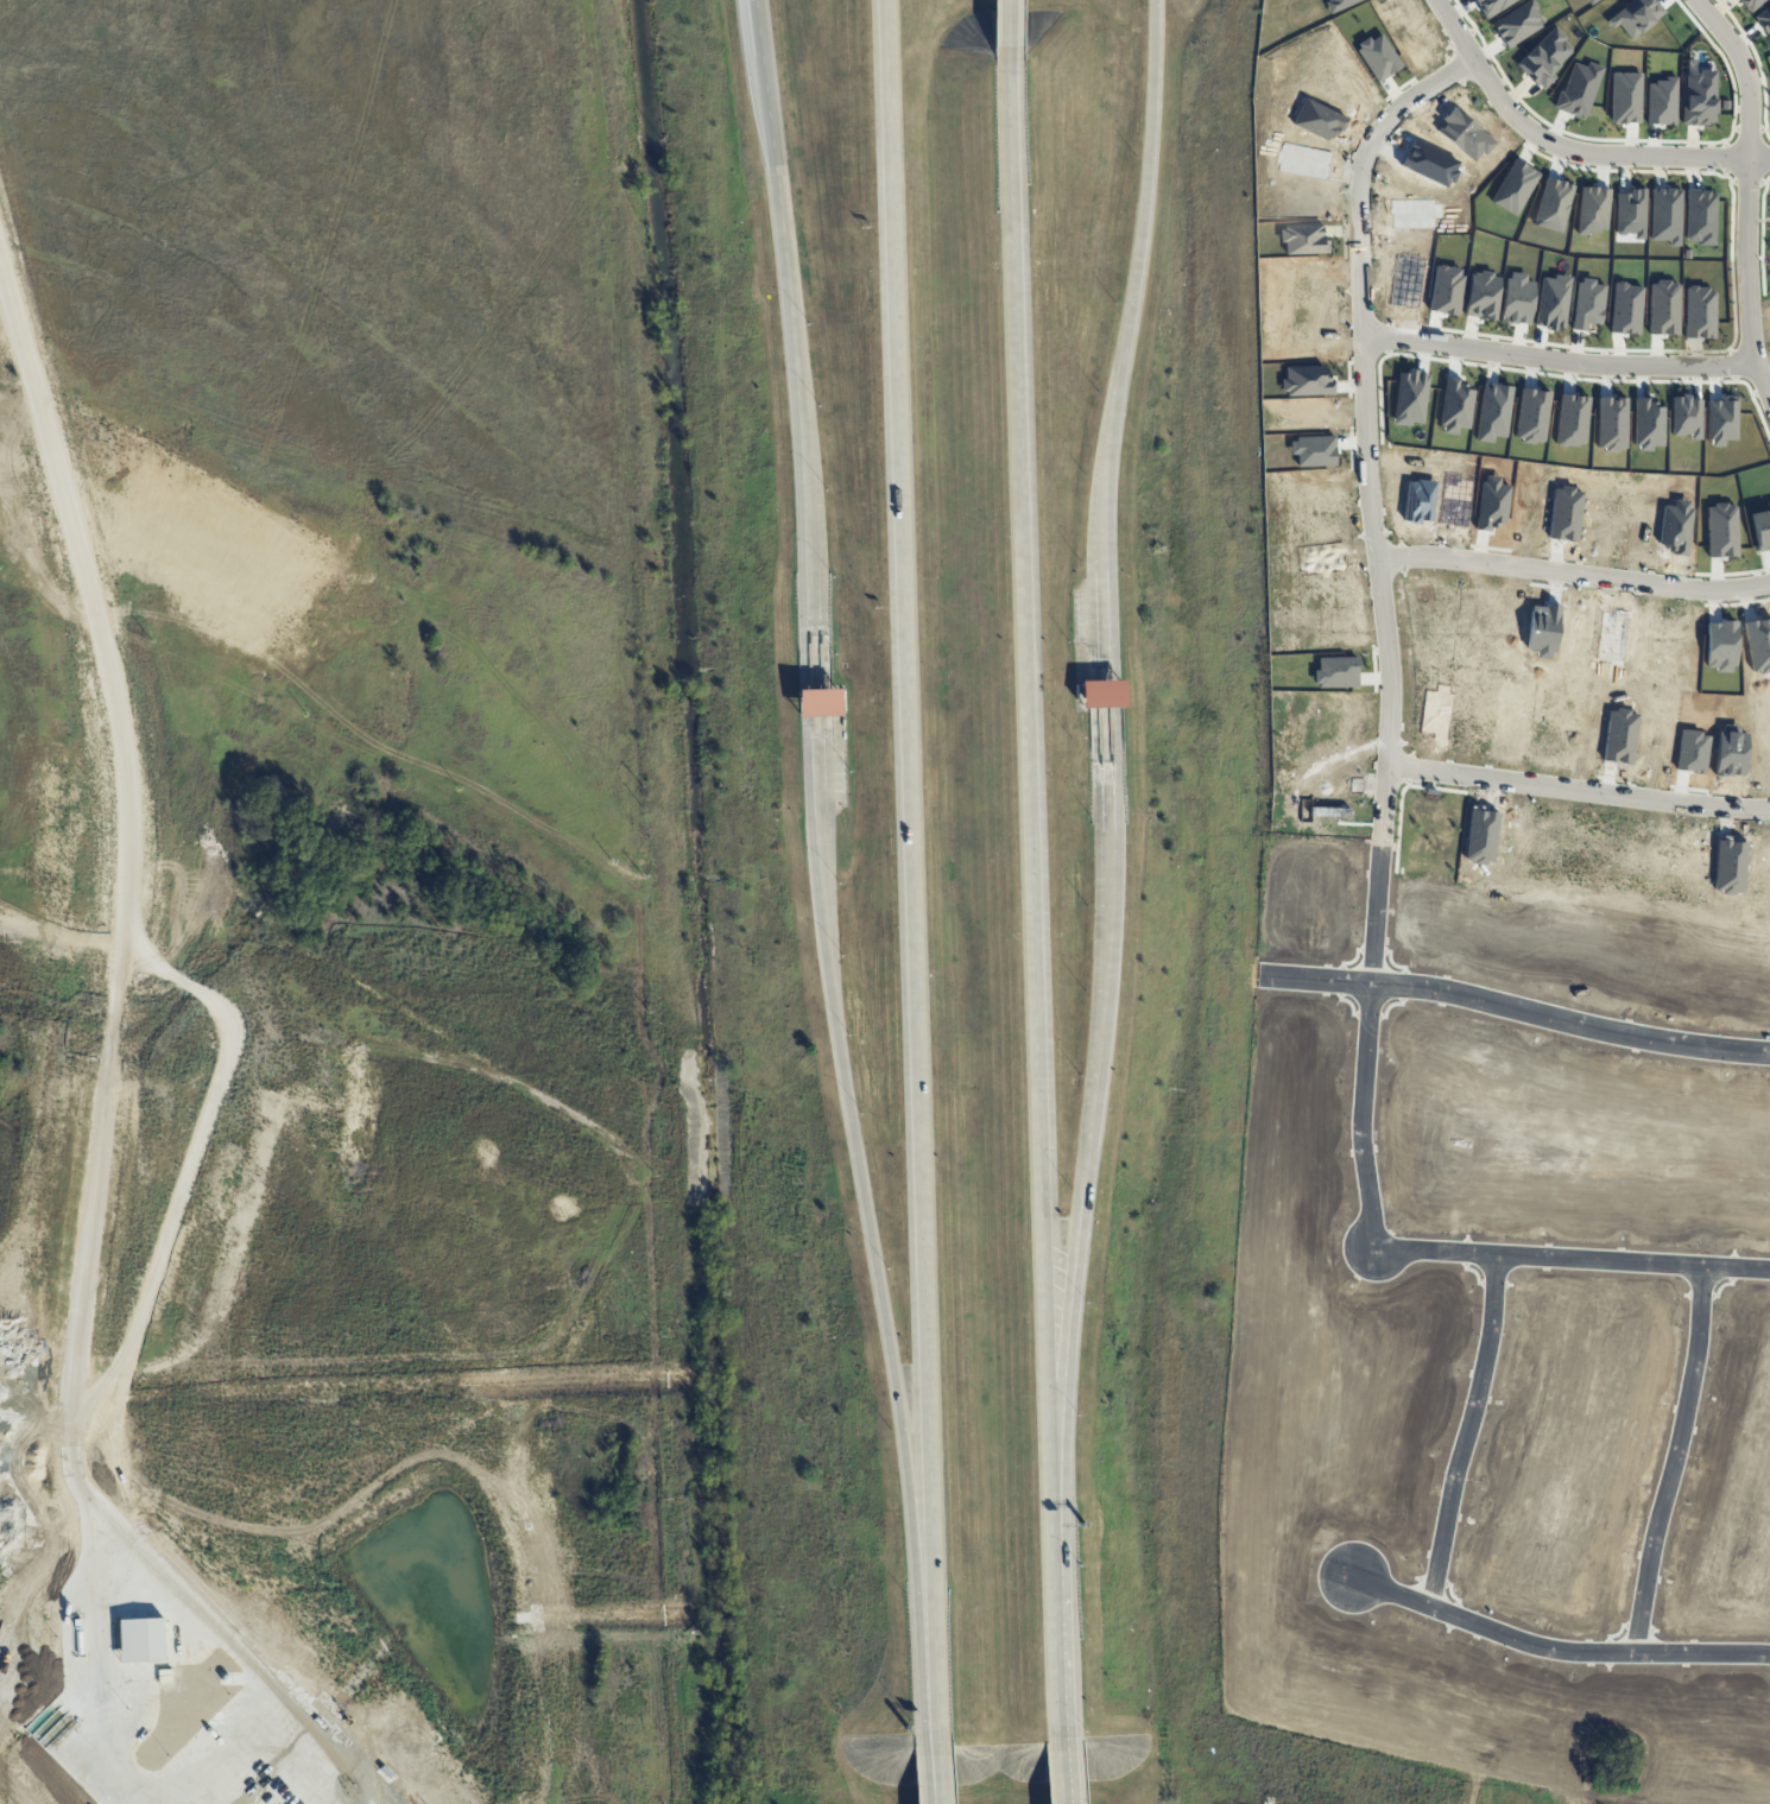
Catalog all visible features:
building: (1751, 4)
road: (764, 82)
road: (1569, 146)
road: (1747, 190)
road: (1124, 338)
road: (1560, 363)
road: (798, 397)
road: (1574, 577)
road: (1386, 631)
road: (803, 659)
building: (1101, 692)
road: (1115, 692)
road: (804, 702)
building: (818, 702)
road: (1025, 730)
road: (1115, 767)
road: (1578, 790)
road: (813, 809)
road: (908, 863)
road: (127, 888)
road: (1517, 1007)
road: (1089, 1144)
road: (1572, 1261)
road: (883, 1314)
road: (1466, 1436)
road: (1674, 1464)
road: (1057, 1599)
road: (1553, 1657)
road: (930, 1766)
road: (1061, 1770)

